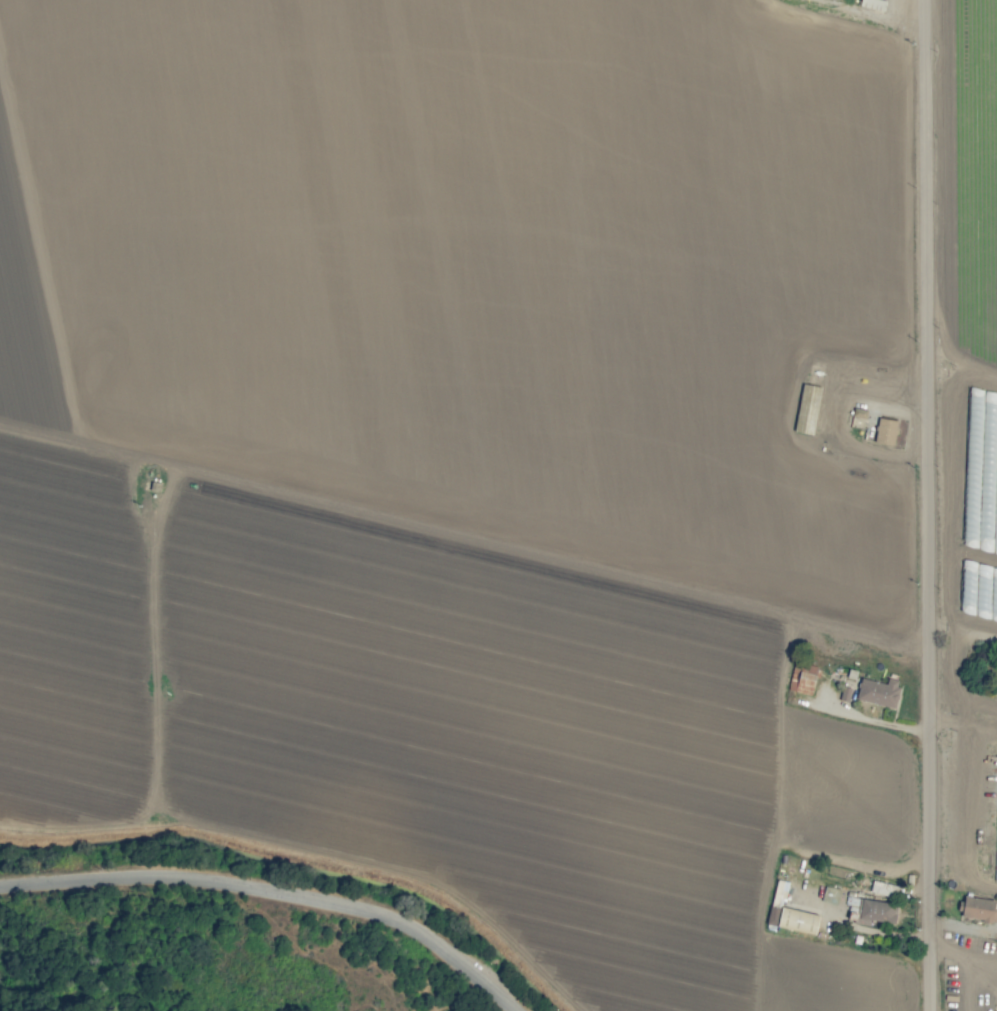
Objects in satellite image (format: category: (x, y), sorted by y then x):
building: (873, 4)
building: (806, 409)
building: (885, 431)
crop: (477, 467)
crop: (976, 499)
road: (931, 505)
building: (802, 678)
building: (878, 692)
building: (845, 693)
road: (965, 887)
road: (273, 895)
building: (830, 895)
building: (977, 908)
building: (875, 911)
building: (789, 913)

